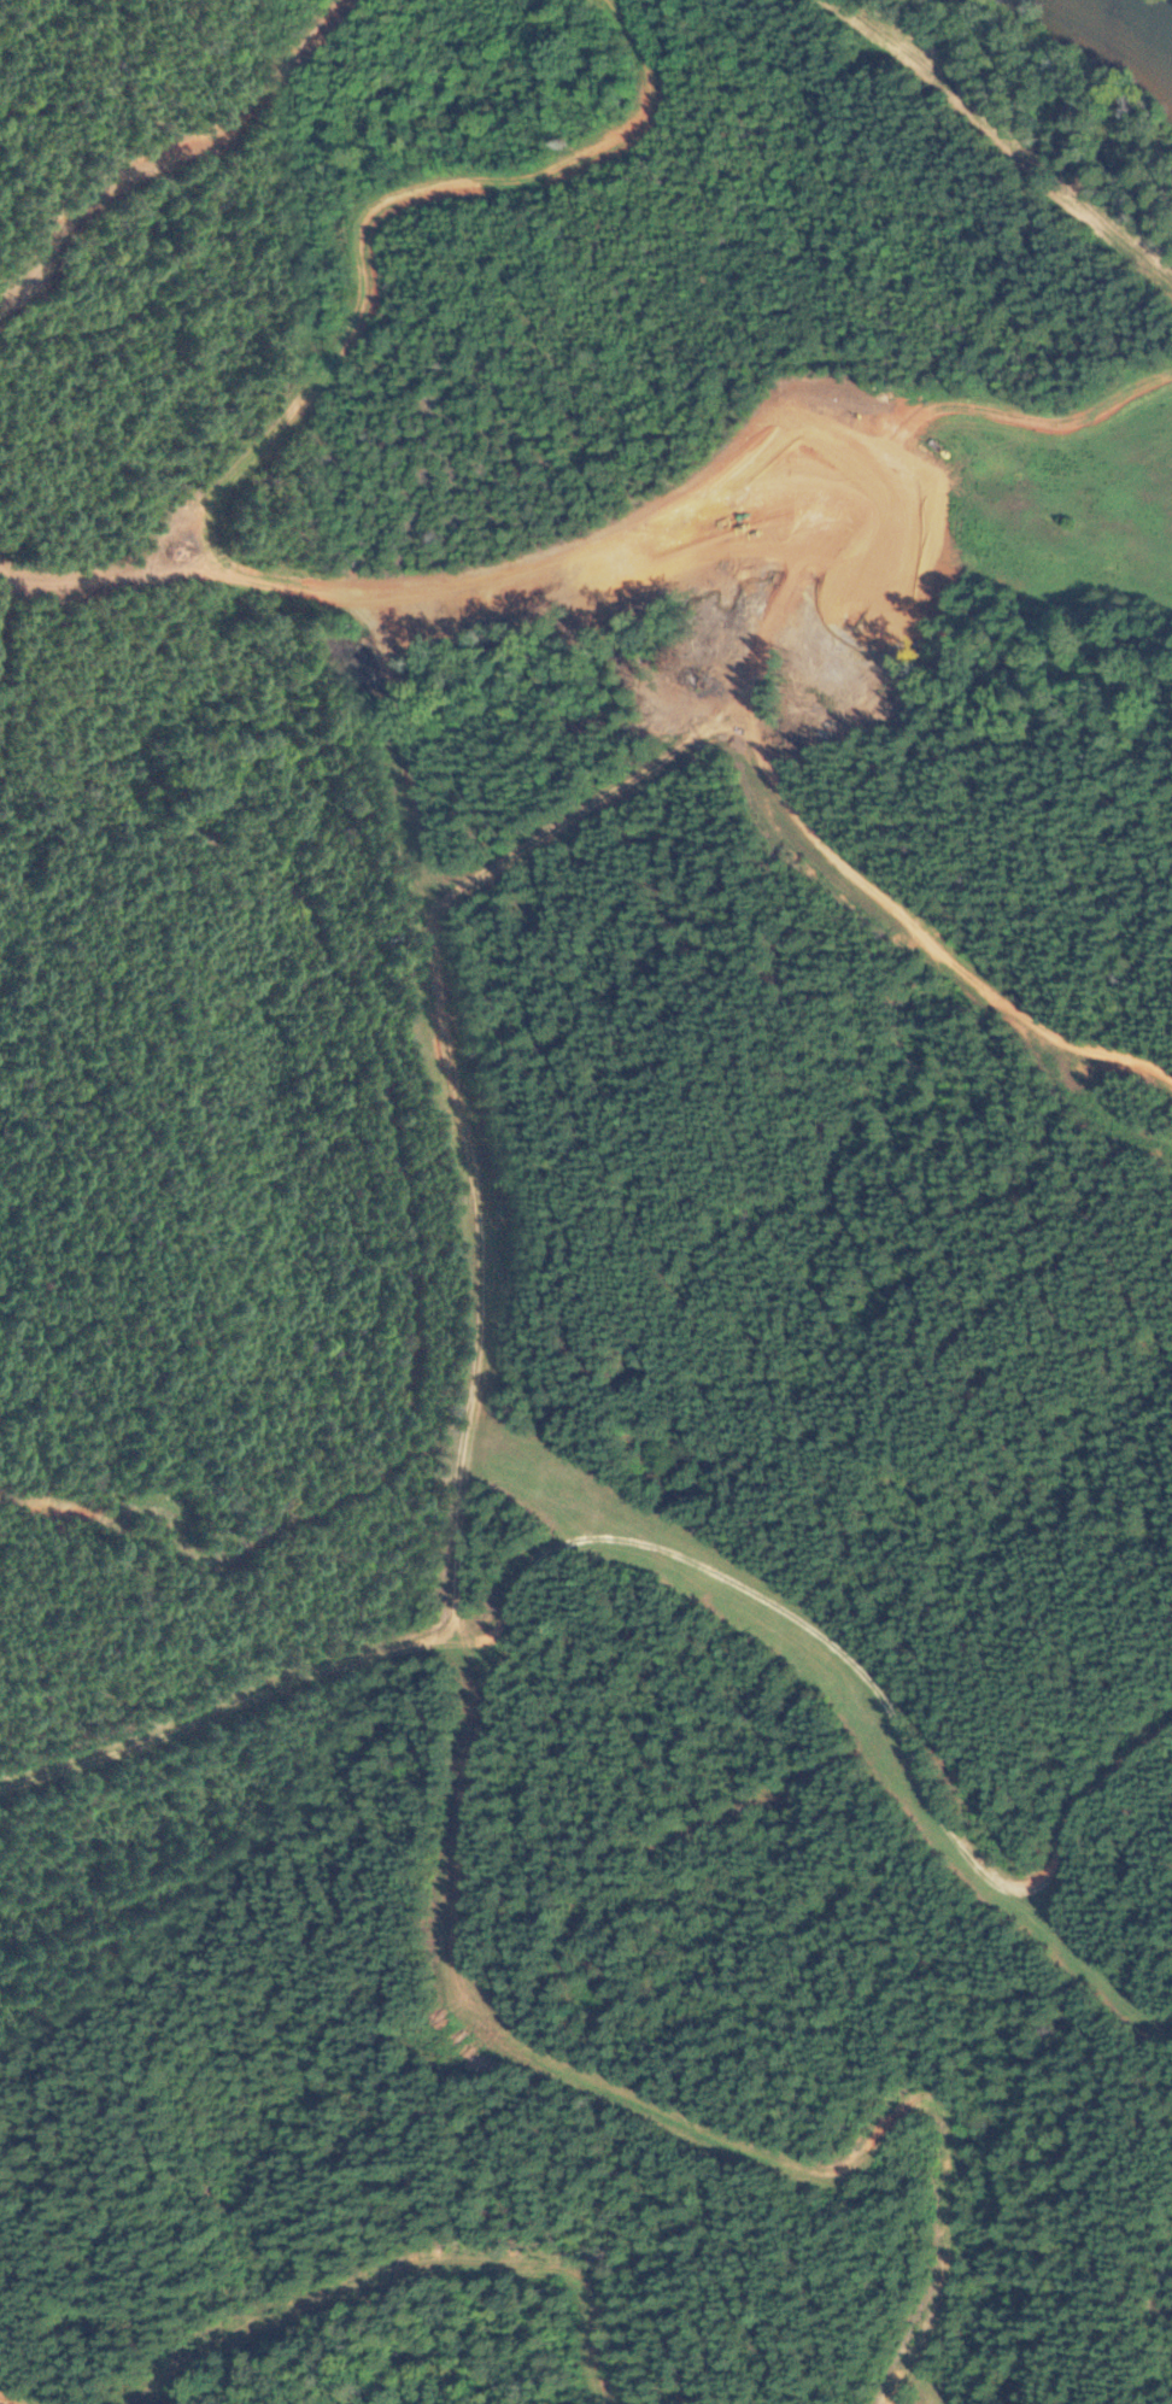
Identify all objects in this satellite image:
river: (1133, 33)

